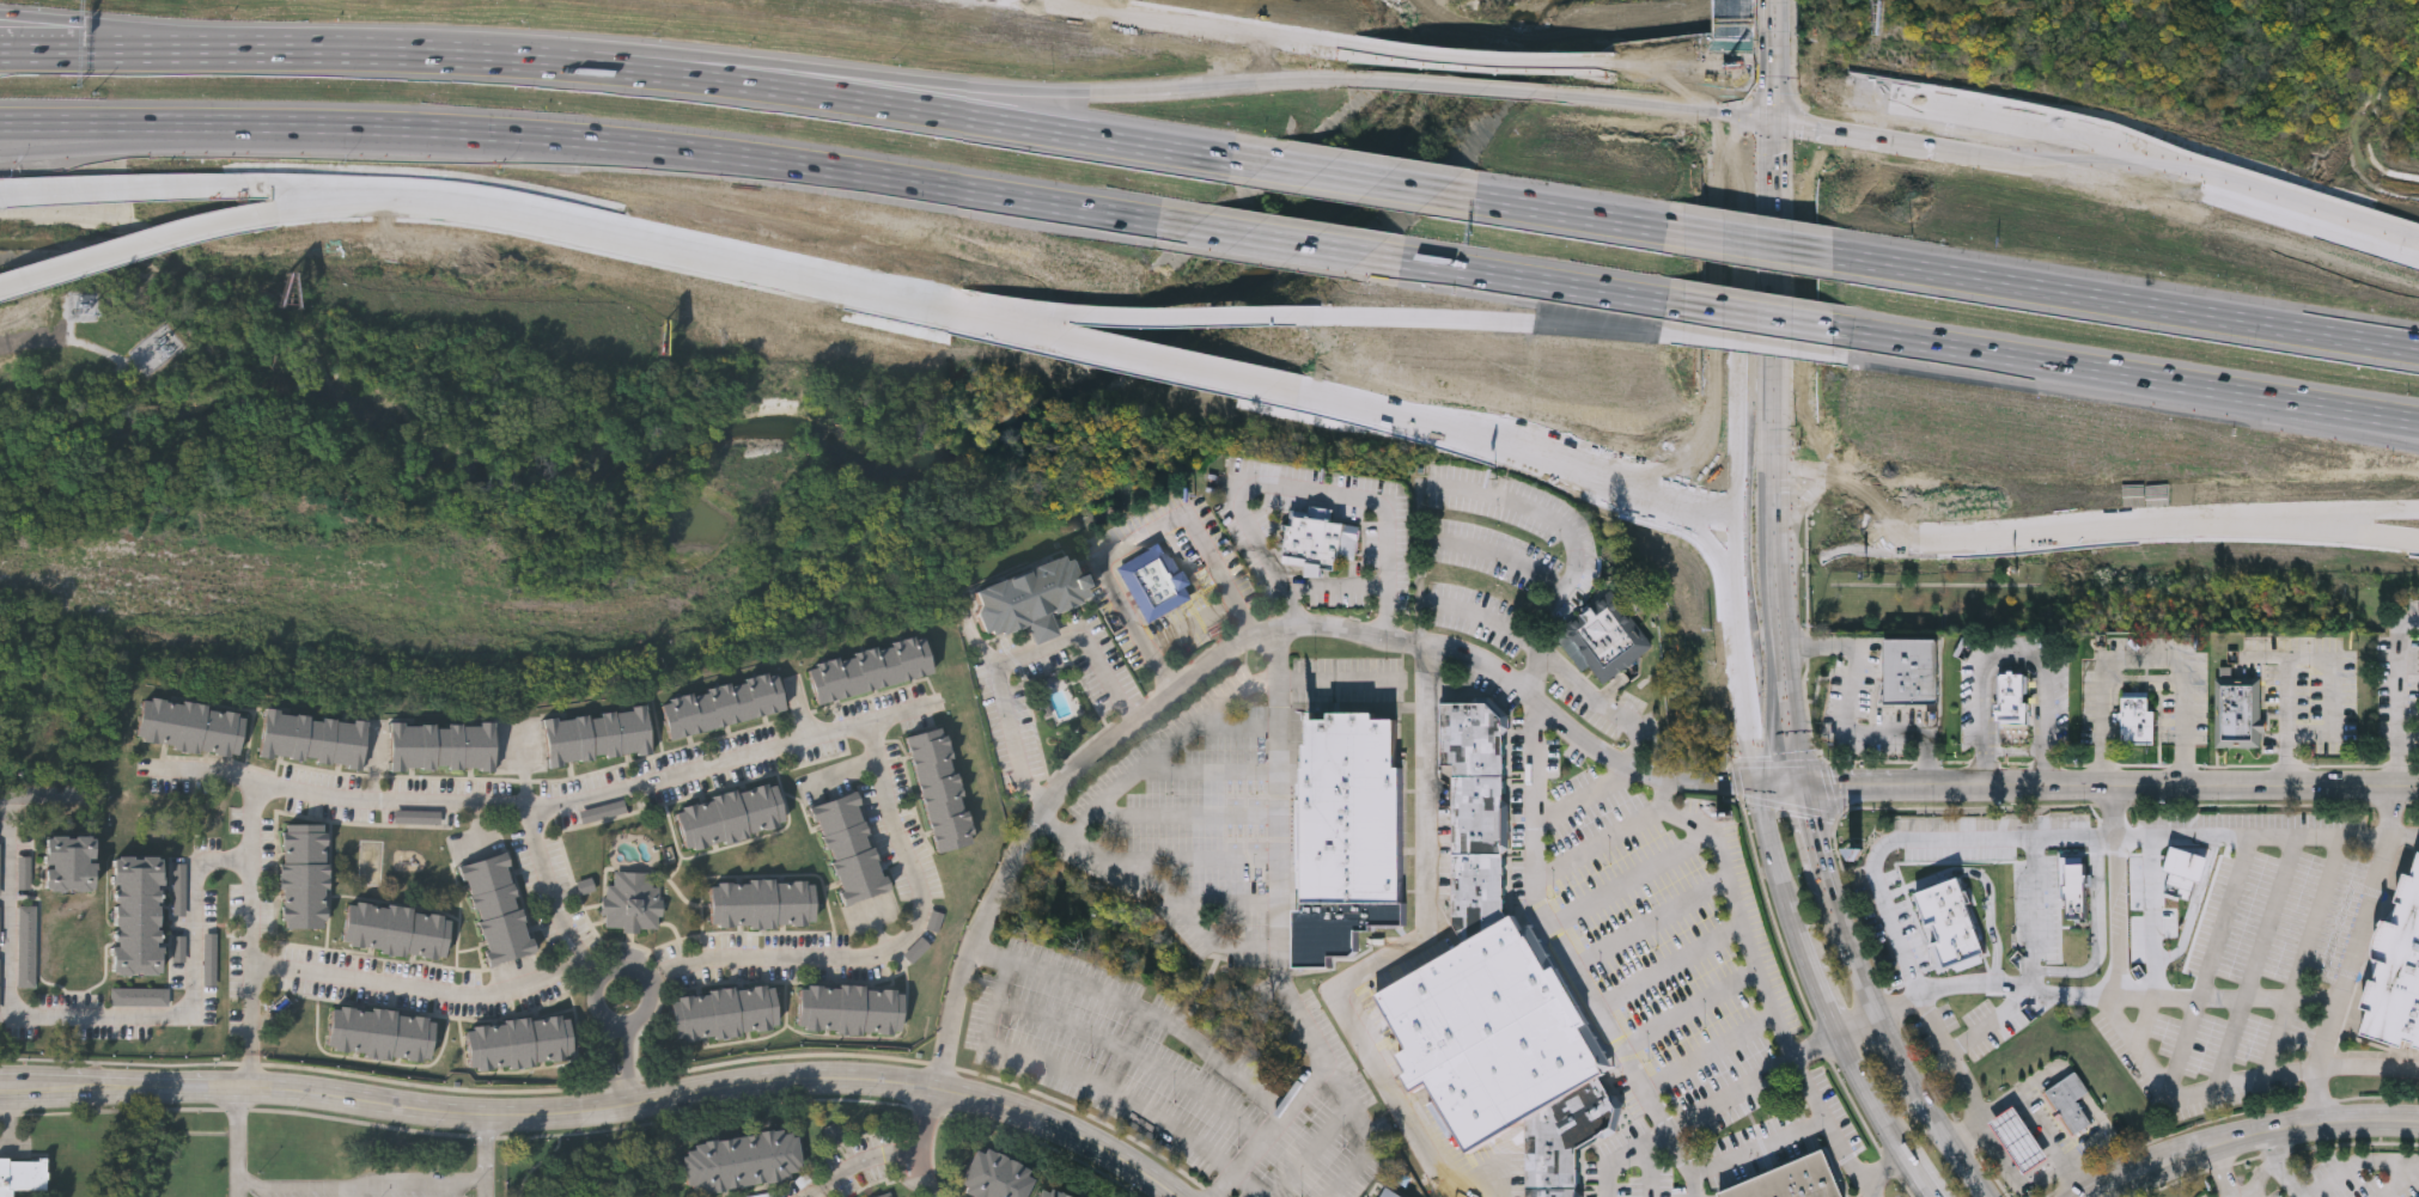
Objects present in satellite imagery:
road: (1787, 17)
road: (1737, 19)
road: (1188, 24)
road: (130, 28)
road: (130, 48)
road: (307, 48)
road: (1737, 59)
road: (1473, 60)
road: (1787, 61)
road: (1641, 72)
road: (863, 73)
road: (1480, 77)
road: (1717, 77)
traffic signals: (1737, 78)
road: (1762, 84)
road: (794, 87)
traffic signals: (1787, 90)
road: (1854, 102)
road: (2017, 135)
road: (89, 139)
road: (581, 140)
road: (1737, 141)
road: (1787, 149)
road: (1338, 173)
road: (2217, 183)
road: (123, 190)
road: (327, 191)
road: (342, 203)
road: (1561, 210)
road: (2369, 222)
road: (2369, 234)
road: (1281, 240)
road: (1760, 242)
road: (669, 243)
road: (140, 250)
road: (1737, 275)
road: (1536, 281)
road: (1786, 282)
road: (2128, 299)
road: (1753, 316)
road: (1133, 322)
road: (1500, 326)
road: (31, 340)
road: (1757, 346)
road: (1119, 349)
road: (1905, 353)
road: (2128, 374)
road: (1736, 399)
road: (1786, 409)
traffic signals: (1736, 453)
traffic signals: (1787, 463)
road: (1521, 464)
road: (1305, 485)
road: (1736, 496)
road: (1506, 499)
road: (2326, 519)
road: (2326, 530)
road: (2010, 533)
road: (1137, 538)
building: (1320, 538)
road: (1762, 543)
road: (1498, 552)
road: (1799, 578)
building: (1154, 582)
building: (1030, 597)
road: (1467, 609)
road: (1737, 613)
road: (1791, 624)
building: (1605, 639)
road: (2143, 652)
building: (1913, 654)
road: (2016, 656)
road: (1018, 660)
road: (2018, 665)
building: (870, 667)
road: (2397, 671)
road: (1205, 673)
road: (2332, 674)
road: (1339, 678)
building: (1913, 688)
road: (1591, 692)
parking lot: (2304, 692)
building: (2012, 701)
building: (723, 703)
parking lot: (1870, 707)
building: (2240, 712)
road: (1841, 721)
road: (2289, 721)
building: (2140, 722)
road: (1238, 723)
building: (189, 725)
building: (596, 734)
building: (312, 737)
road: (1748, 737)
road: (2408, 738)
building: (441, 744)
road: (1165, 746)
road: (2013, 752)
road: (2396, 759)
road: (1209, 765)
road: (1710, 782)
road: (2112, 784)
road: (1779, 786)
traffic signals: (1804, 786)
building: (940, 787)
traffic signals: (1756, 787)
road: (1533, 788)
road: (1583, 794)
road: (47, 795)
road: (7, 802)
road: (546, 807)
road: (2116, 810)
building: (604, 812)
road: (1184, 812)
building: (730, 814)
building: (1476, 814)
building: (419, 817)
road: (2405, 833)
building: (1352, 835)
road: (1920, 835)
road: (2279, 835)
road: (1820, 841)
building: (851, 847)
road: (1774, 859)
building: (69, 863)
building: (2185, 863)
building: (0, 873)
building: (25, 873)
building: (304, 875)
road: (1632, 878)
road: (1982, 878)
building: (2073, 881)
building: (181, 890)
road: (553, 892)
road: (2152, 898)
building: (633, 902)
building: (762, 903)
road: (2195, 905)
building: (496, 908)
road: (2033, 910)
road: (1668, 914)
road: (1741, 915)
building: (138, 916)
road: (2120, 916)
road: (251, 917)
building: (1954, 922)
building: (0, 927)
building: (396, 929)
road: (2101, 932)
road: (896, 942)
road: (1269, 942)
building: (28, 947)
road: (1396, 947)
building: (918, 951)
road: (1858, 951)
road: (2304, 953)
road: (2210, 959)
road: (2257, 959)
building: (212, 960)
road: (1671, 964)
building: (2397, 971)
road: (596, 973)
road: (657, 976)
road: (2345, 977)
road: (2155, 979)
road: (1811, 981)
building: (0, 989)
road: (420, 990)
building: (141, 997)
road: (1597, 998)
road: (2224, 998)
road: (1690, 1008)
building: (851, 1009)
building: (725, 1012)
road: (106, 1014)
road: (1856, 1019)
road: (1991, 1019)
road: (635, 1020)
road: (1308, 1032)
building: (382, 1033)
building: (1492, 1034)
road: (1188, 1036)
building: (520, 1042)
road: (1896, 1049)
road: (1140, 1052)
road: (1711, 1052)
road: (2141, 1052)
road: (617, 1064)
road: (1800, 1068)
road: (1958, 1069)
road: (250, 1070)
road: (1080, 1075)
road: (2043, 1076)
road: (2077, 1086)
building: (2072, 1101)
road: (1865, 1104)
road: (602, 1110)
road: (2029, 1118)
road: (8, 1123)
road: (2040, 1124)
road: (2013, 1129)
road: (1372, 1132)
building: (834, 1134)
road: (1784, 1135)
road: (2249, 1135)
road: (2104, 1136)
building: (1566, 1138)
building: (2019, 1138)
gas station: (2019, 1138)
road: (2043, 1138)
road: (1997, 1140)
road: (238, 1142)
road: (1954, 1142)
road: (900, 1148)
road: (2027, 1149)
road: (1681, 1153)
road: (485, 1155)
road: (1625, 1156)
building: (741, 1159)
road: (2010, 1160)
road: (2275, 1166)
road: (2358, 1166)
road: (1652, 1169)
road: (925, 1171)
road: (2223, 1171)
road: (1876, 1174)
road: (2011, 1174)
building: (23, 1175)
building: (994, 1175)
building: (1792, 1180)
road: (2259, 1181)
road: (1250, 1184)
road: (1918, 1184)
road: (2401, 1185)
road: (359, 1187)
road: (821, 1190)
building: (1052, 1191)
building: (1389, 1193)
building: (886, 1195)

